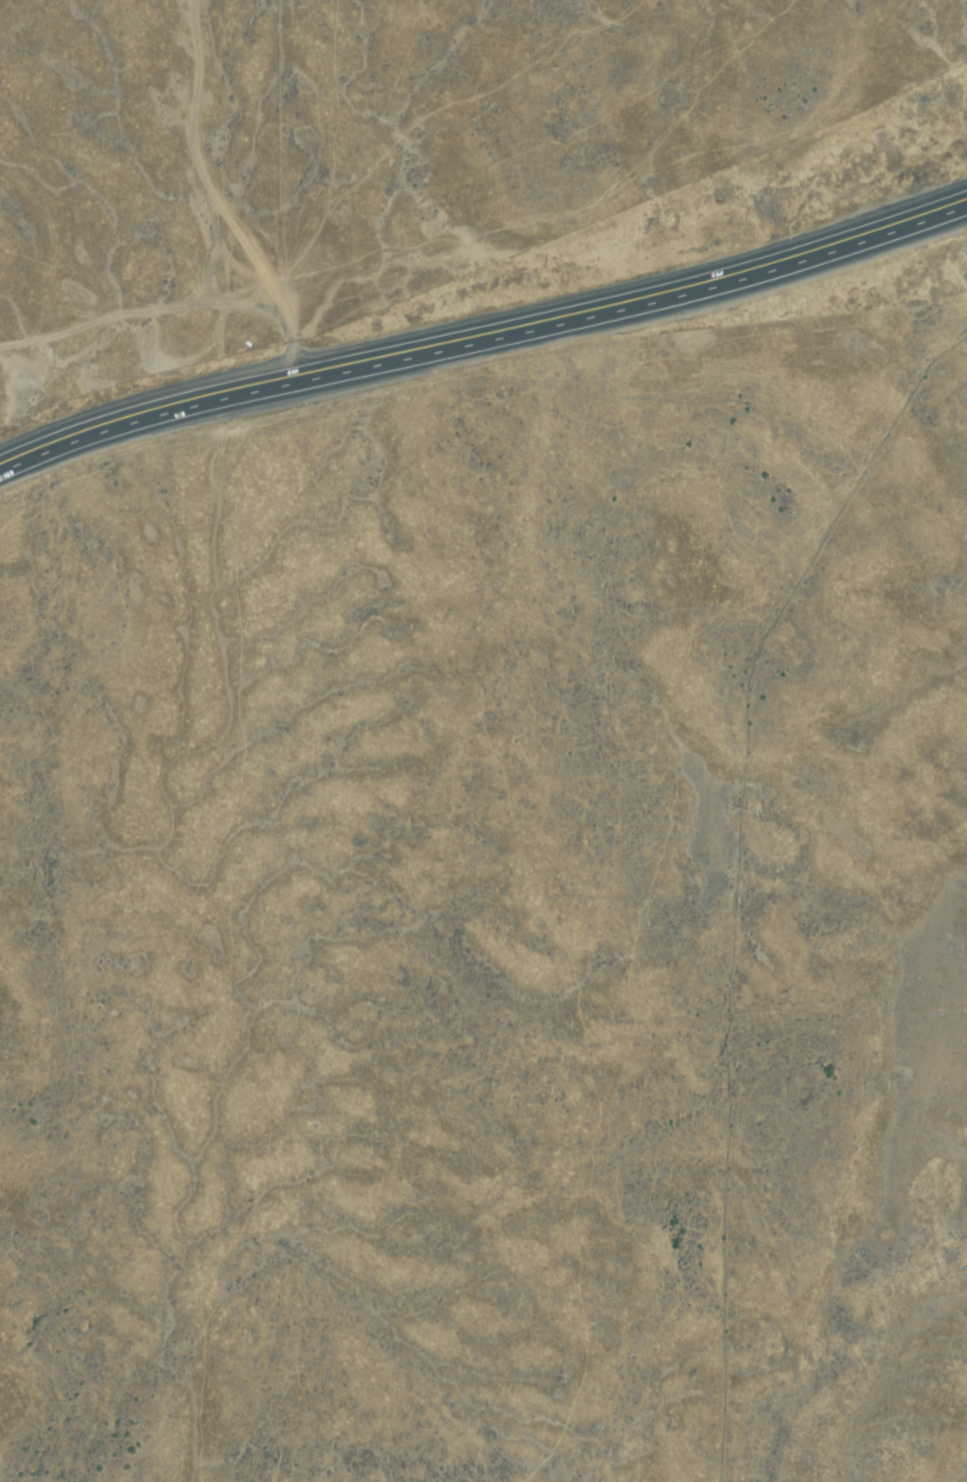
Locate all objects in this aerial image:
road: (483, 340)

